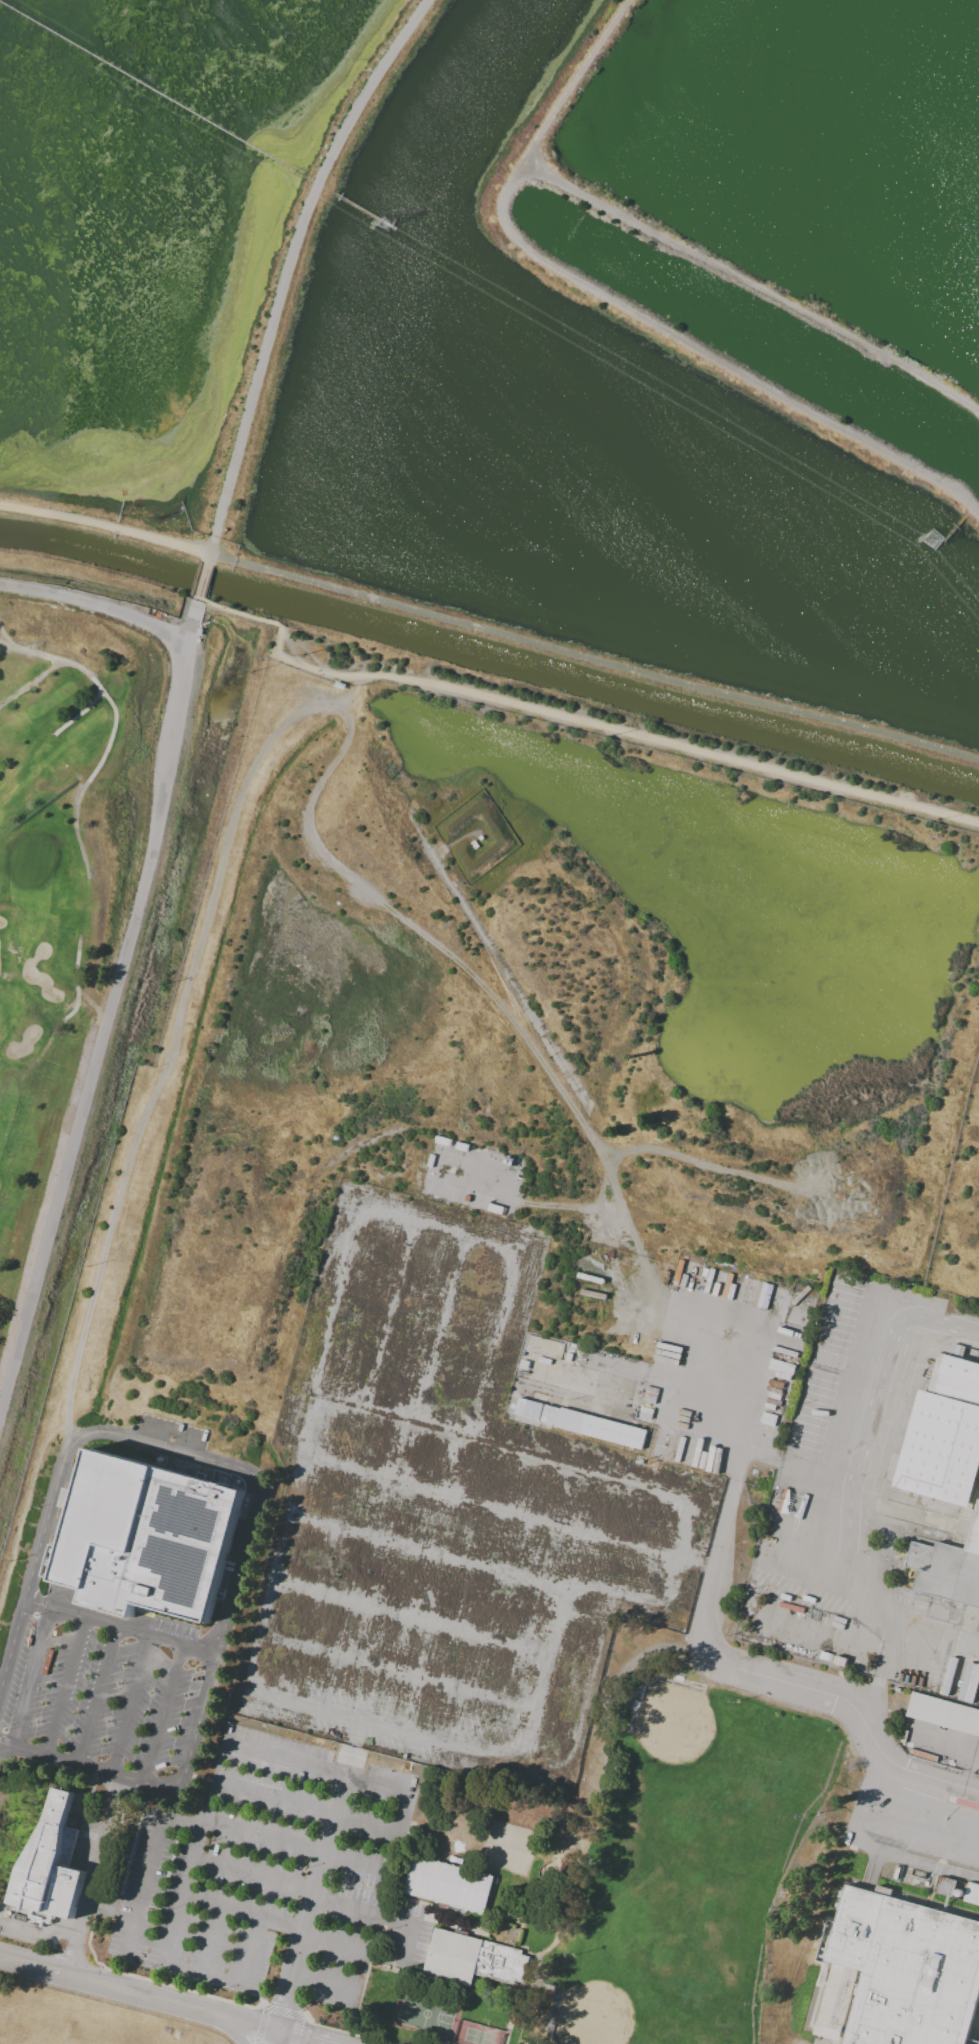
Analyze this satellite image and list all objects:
pier: (154, 91)
pier: (364, 211)
pier: (392, 223)
power tower: (388, 226)
road: (292, 264)
road: (750, 284)
road: (623, 313)
road: (104, 526)
power tower: (934, 539)
road: (202, 575)
road: (95, 604)
road: (592, 660)
building: (338, 684)
road: (571, 716)
building: (480, 840)
building: (474, 845)
park: (62, 878)
road: (111, 1012)
road: (437, 1227)
road: (388, 1314)
road: (442, 1328)
road: (943, 1329)
road: (492, 1345)
road: (716, 1373)
building: (530, 1412)
road: (671, 1417)
road: (811, 1421)
building: (597, 1430)
building: (944, 1437)
road: (865, 1441)
road: (502, 1444)
road: (302, 1446)
road: (691, 1448)
road: (172, 1449)
building: (678, 1449)
building: (67, 1498)
building: (794, 1504)
road: (508, 1511)
building: (151, 1543)
road: (721, 1544)
road: (682, 1558)
road: (469, 1560)
road: (37, 1568)
road: (242, 1573)
building: (947, 1573)
road: (859, 1581)
parking lot: (455, 1582)
road: (82, 1617)
road: (410, 1620)
road: (950, 1640)
road: (178, 1644)
road: (880, 1667)
road: (398, 1673)
road: (547, 1674)
road: (32, 1678)
road: (588, 1681)
building: (969, 1682)
road: (64, 1687)
road: (97, 1696)
parking lot: (102, 1697)
road: (131, 1705)
road: (854, 1706)
road: (163, 1715)
building: (943, 1717)
road: (404, 1731)
road: (196, 1737)
road: (72, 1764)
road: (316, 1767)
road: (862, 1796)
road: (923, 1802)
road: (307, 1807)
road: (180, 1823)
road: (399, 1830)
road: (918, 1833)
road: (295, 1846)
road: (914, 1861)
building: (52, 1869)
road: (872, 1870)
road: (94, 1876)
road: (253, 1876)
parking lot: (273, 1878)
road: (143, 1887)
building: (450, 1887)
road: (184, 1892)
building: (971, 1893)
road: (312, 1904)
road: (362, 1912)
road: (244, 1914)
road: (855, 1926)
road: (211, 1941)
road: (406, 1942)
road: (353, 1946)
road: (250, 1951)
road: (14, 1961)
building: (473, 1961)
road: (43, 1969)
building: (910, 1969)
road: (322, 1988)
road: (169, 2004)
road: (832, 2004)
park: (427, 2016)
road: (235, 2033)
road: (278, 2038)
road: (301, 2038)
park: (478, 2038)

